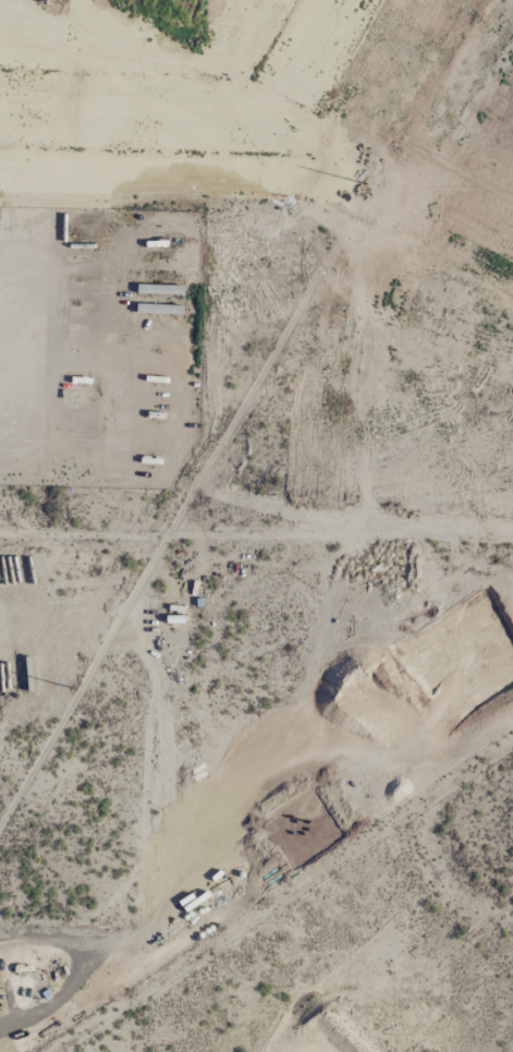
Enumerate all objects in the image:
building: (158, 290)
building: (160, 310)
building: (65, 604)
road: (44, 1009)

